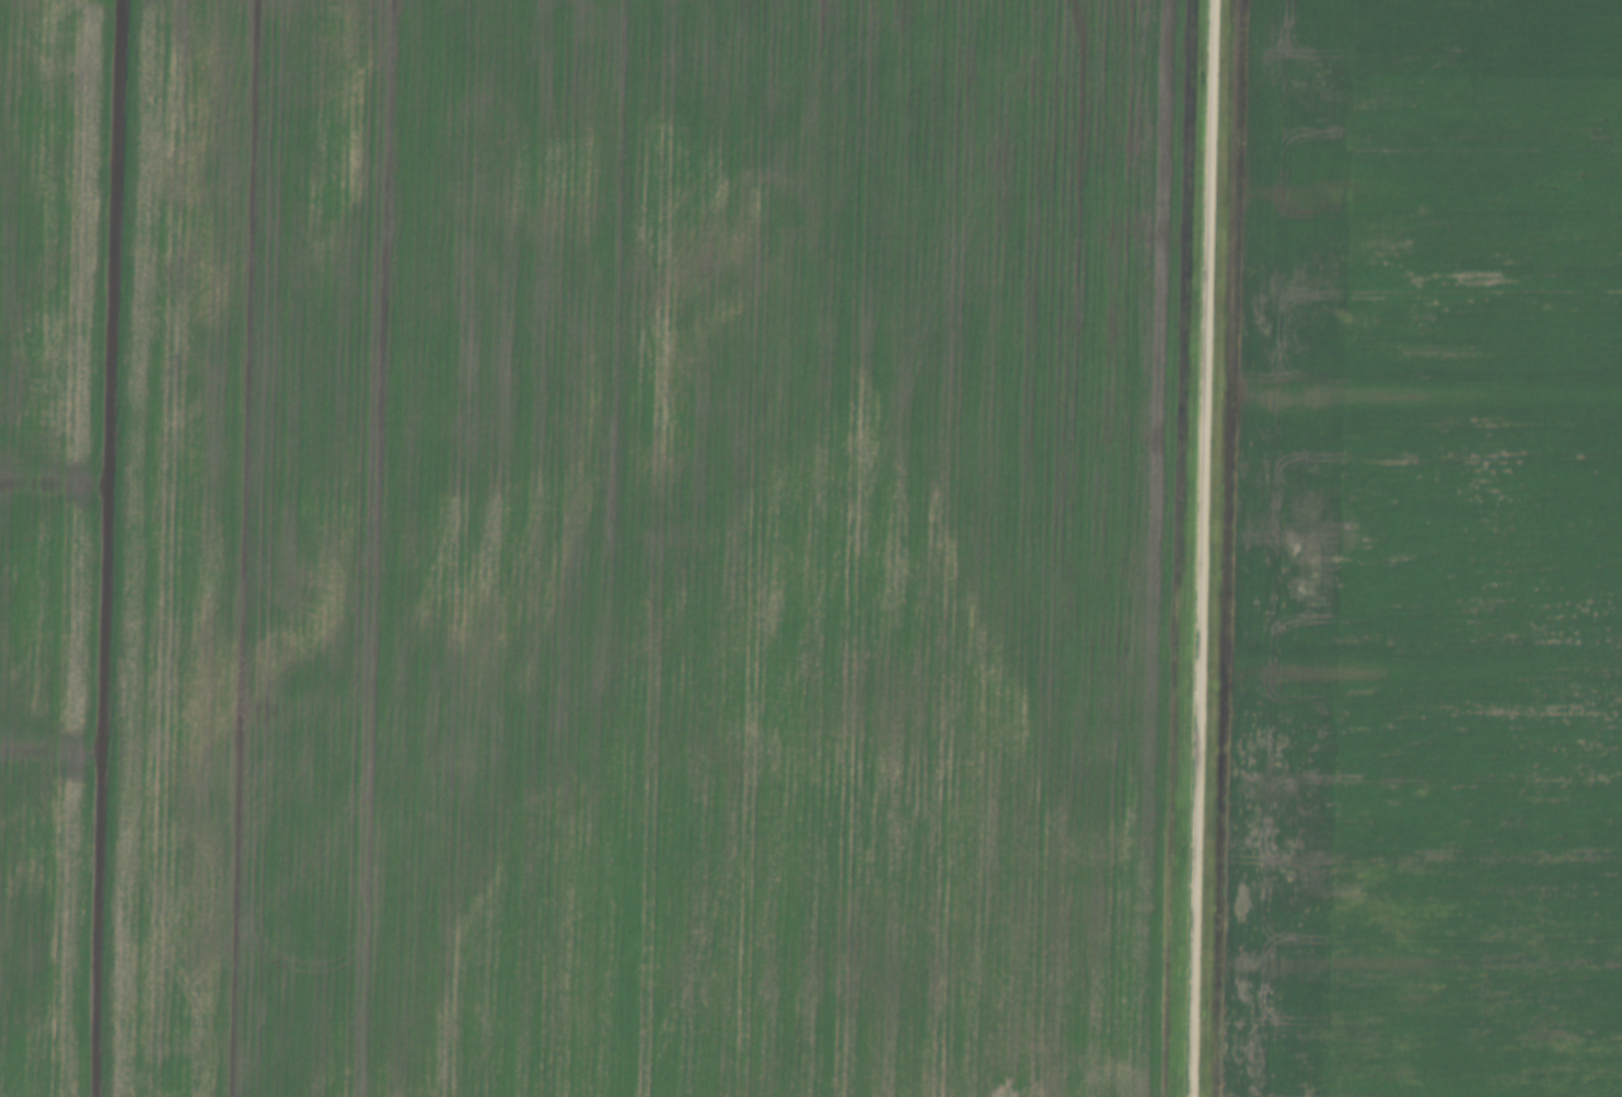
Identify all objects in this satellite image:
crop: (586, 546)
road: (1196, 548)
crop: (1423, 553)

